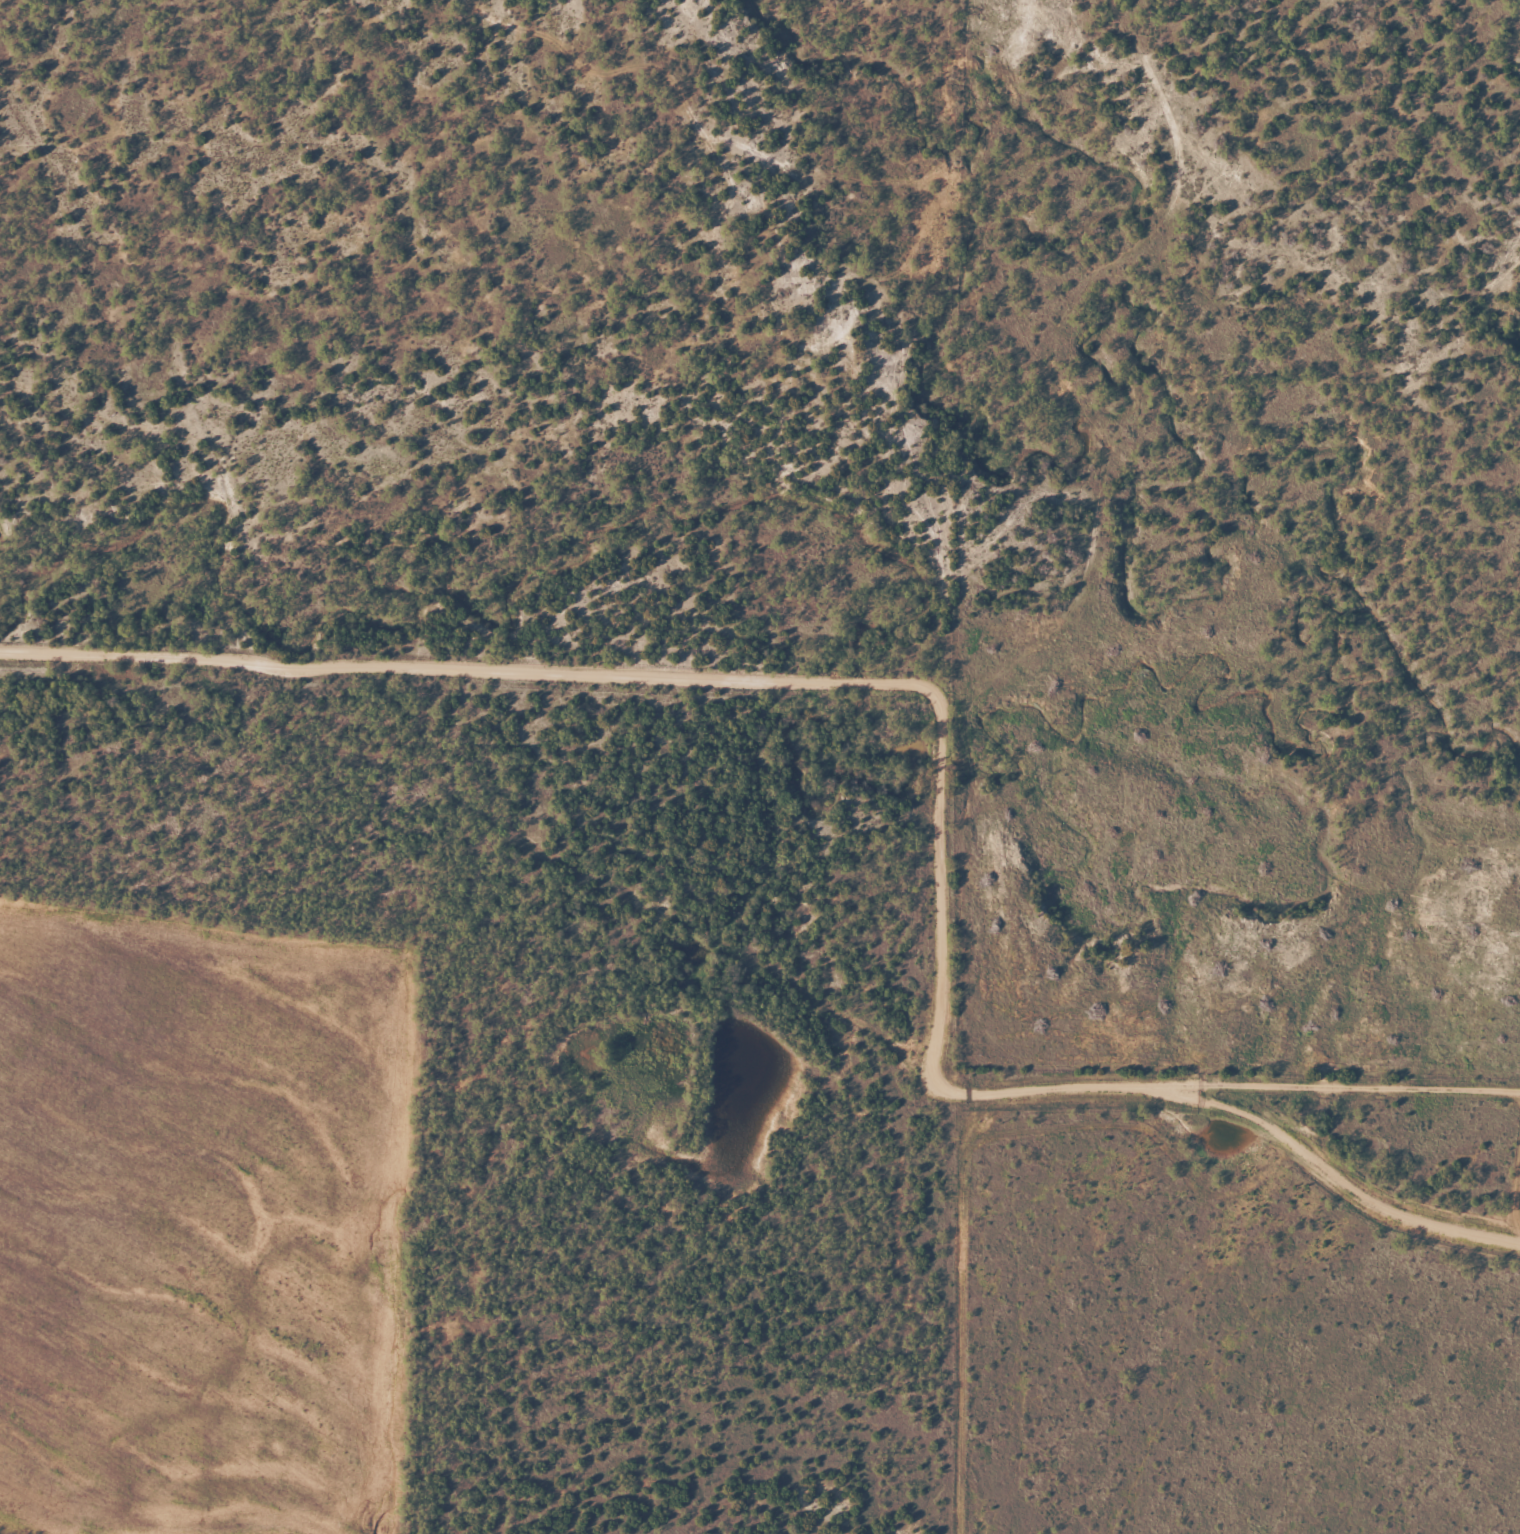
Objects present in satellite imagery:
road: (501, 812)
road: (1253, 1151)
road: (951, 1300)

